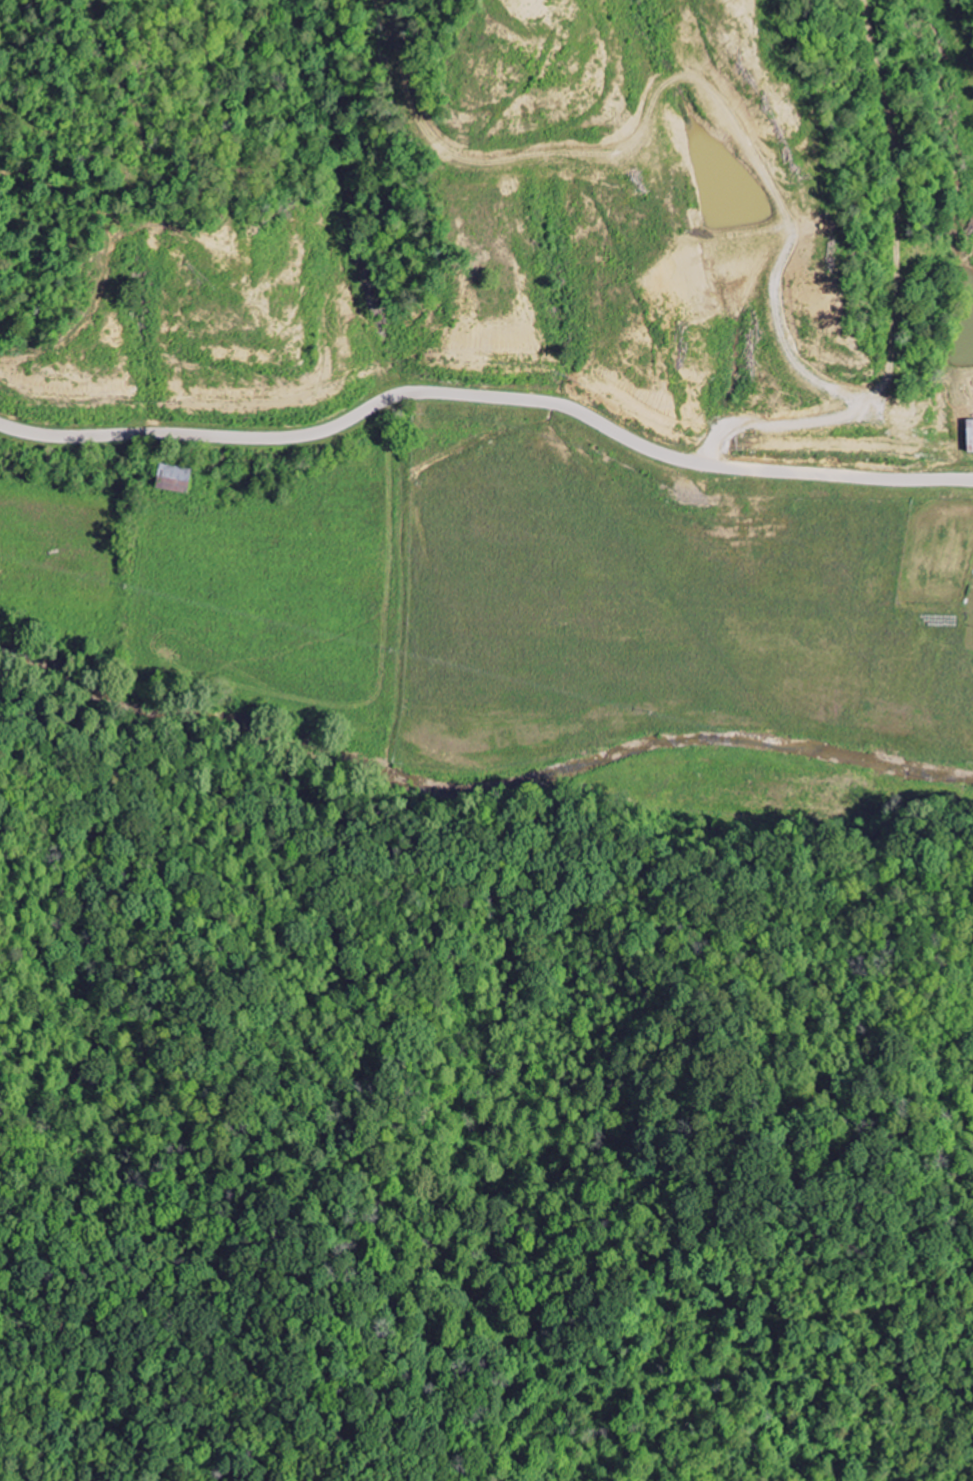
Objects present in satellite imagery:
road: (897, 301)
road: (487, 395)

